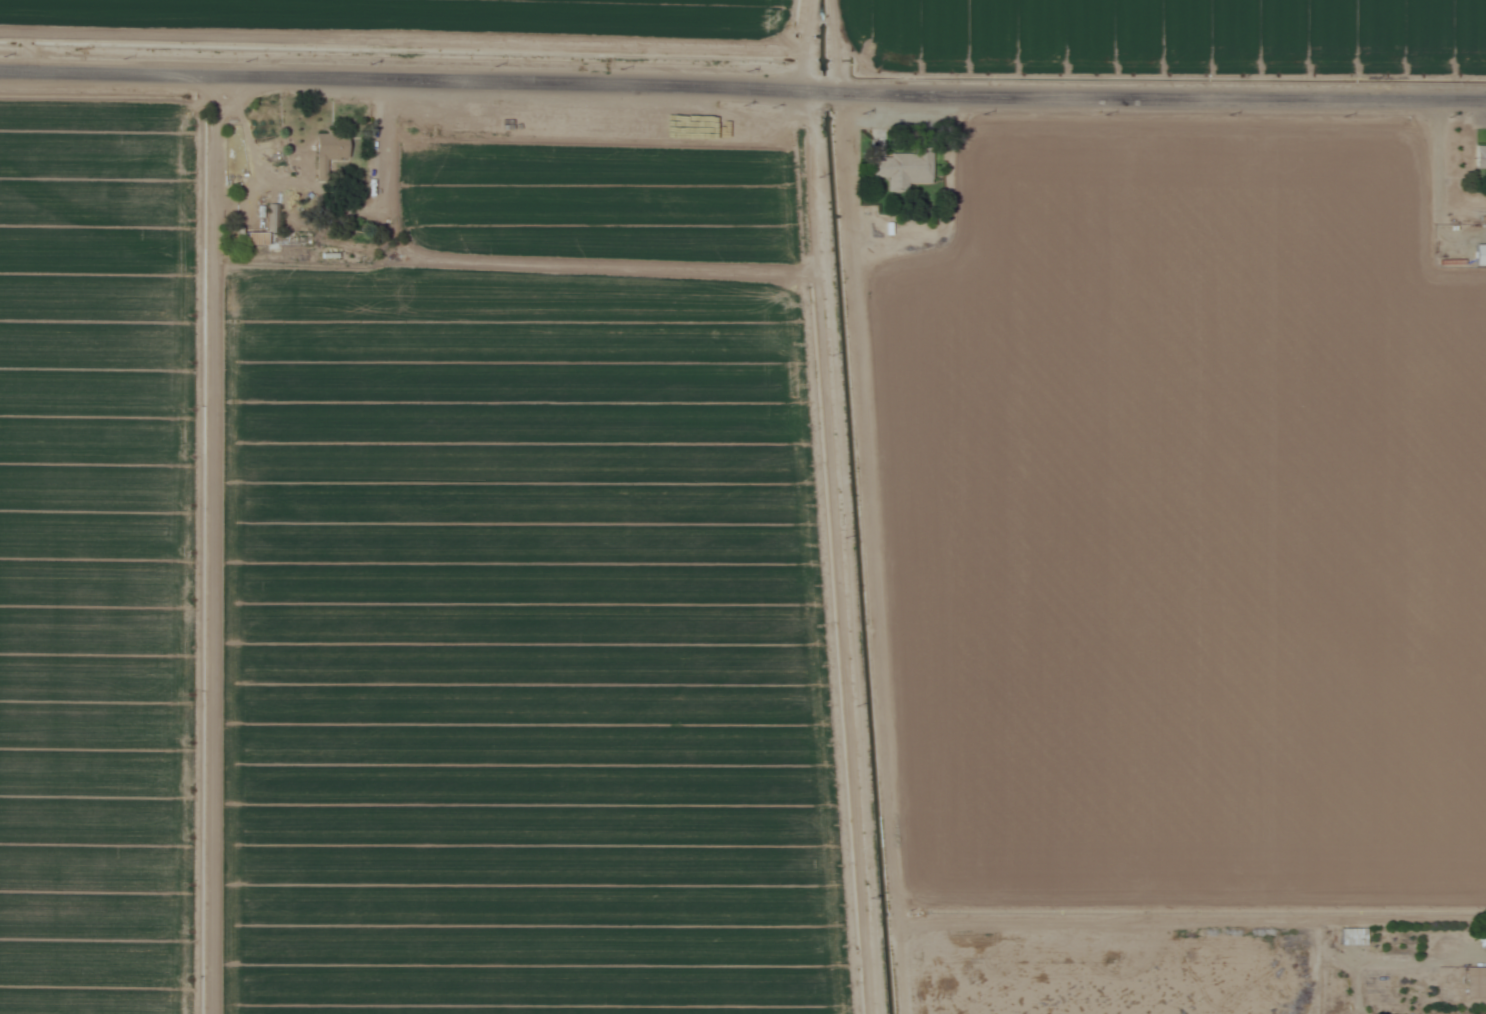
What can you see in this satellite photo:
crop: (427, 17)
crop: (1172, 29)
road: (742, 88)
building: (327, 151)
building: (1479, 158)
building: (901, 169)
building: (272, 219)
building: (255, 241)
building: (1478, 255)
building: (1350, 937)
building: (1482, 943)

